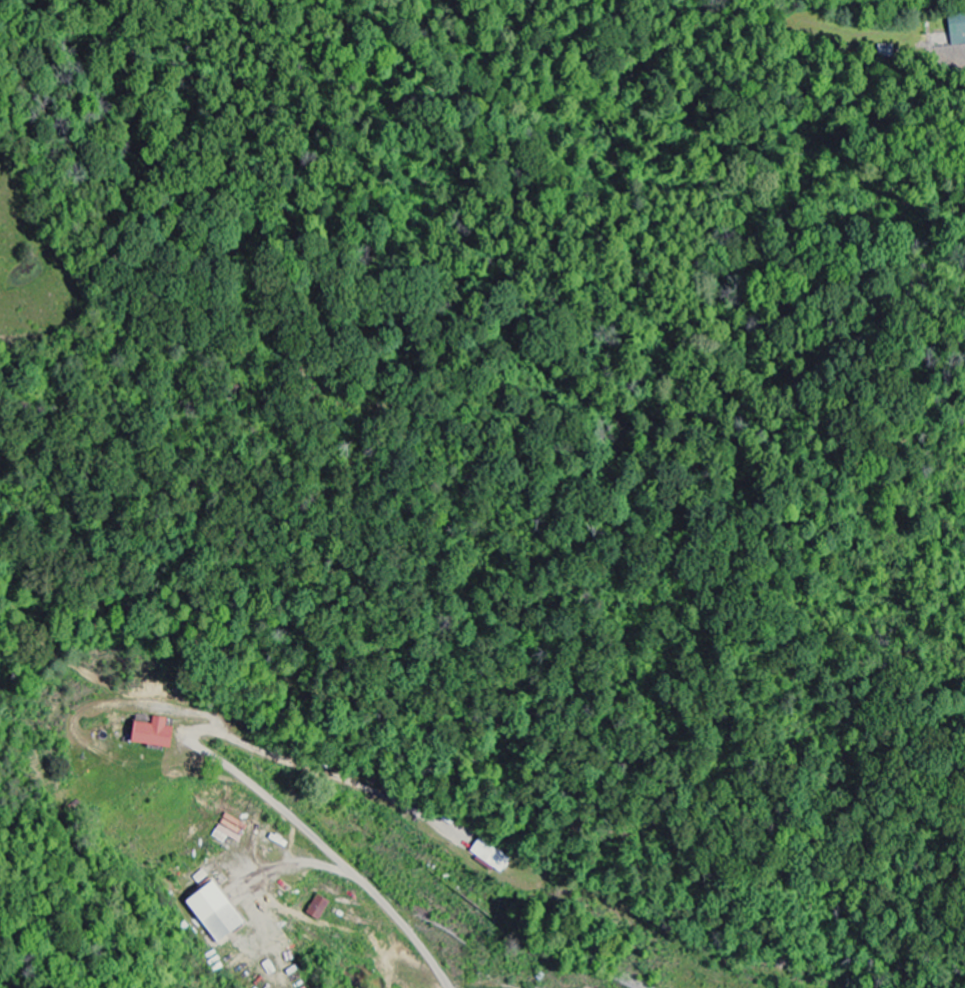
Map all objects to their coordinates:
building: (957, 28)
building: (149, 735)
road: (226, 764)
building: (489, 856)
building: (316, 908)
building: (212, 912)

